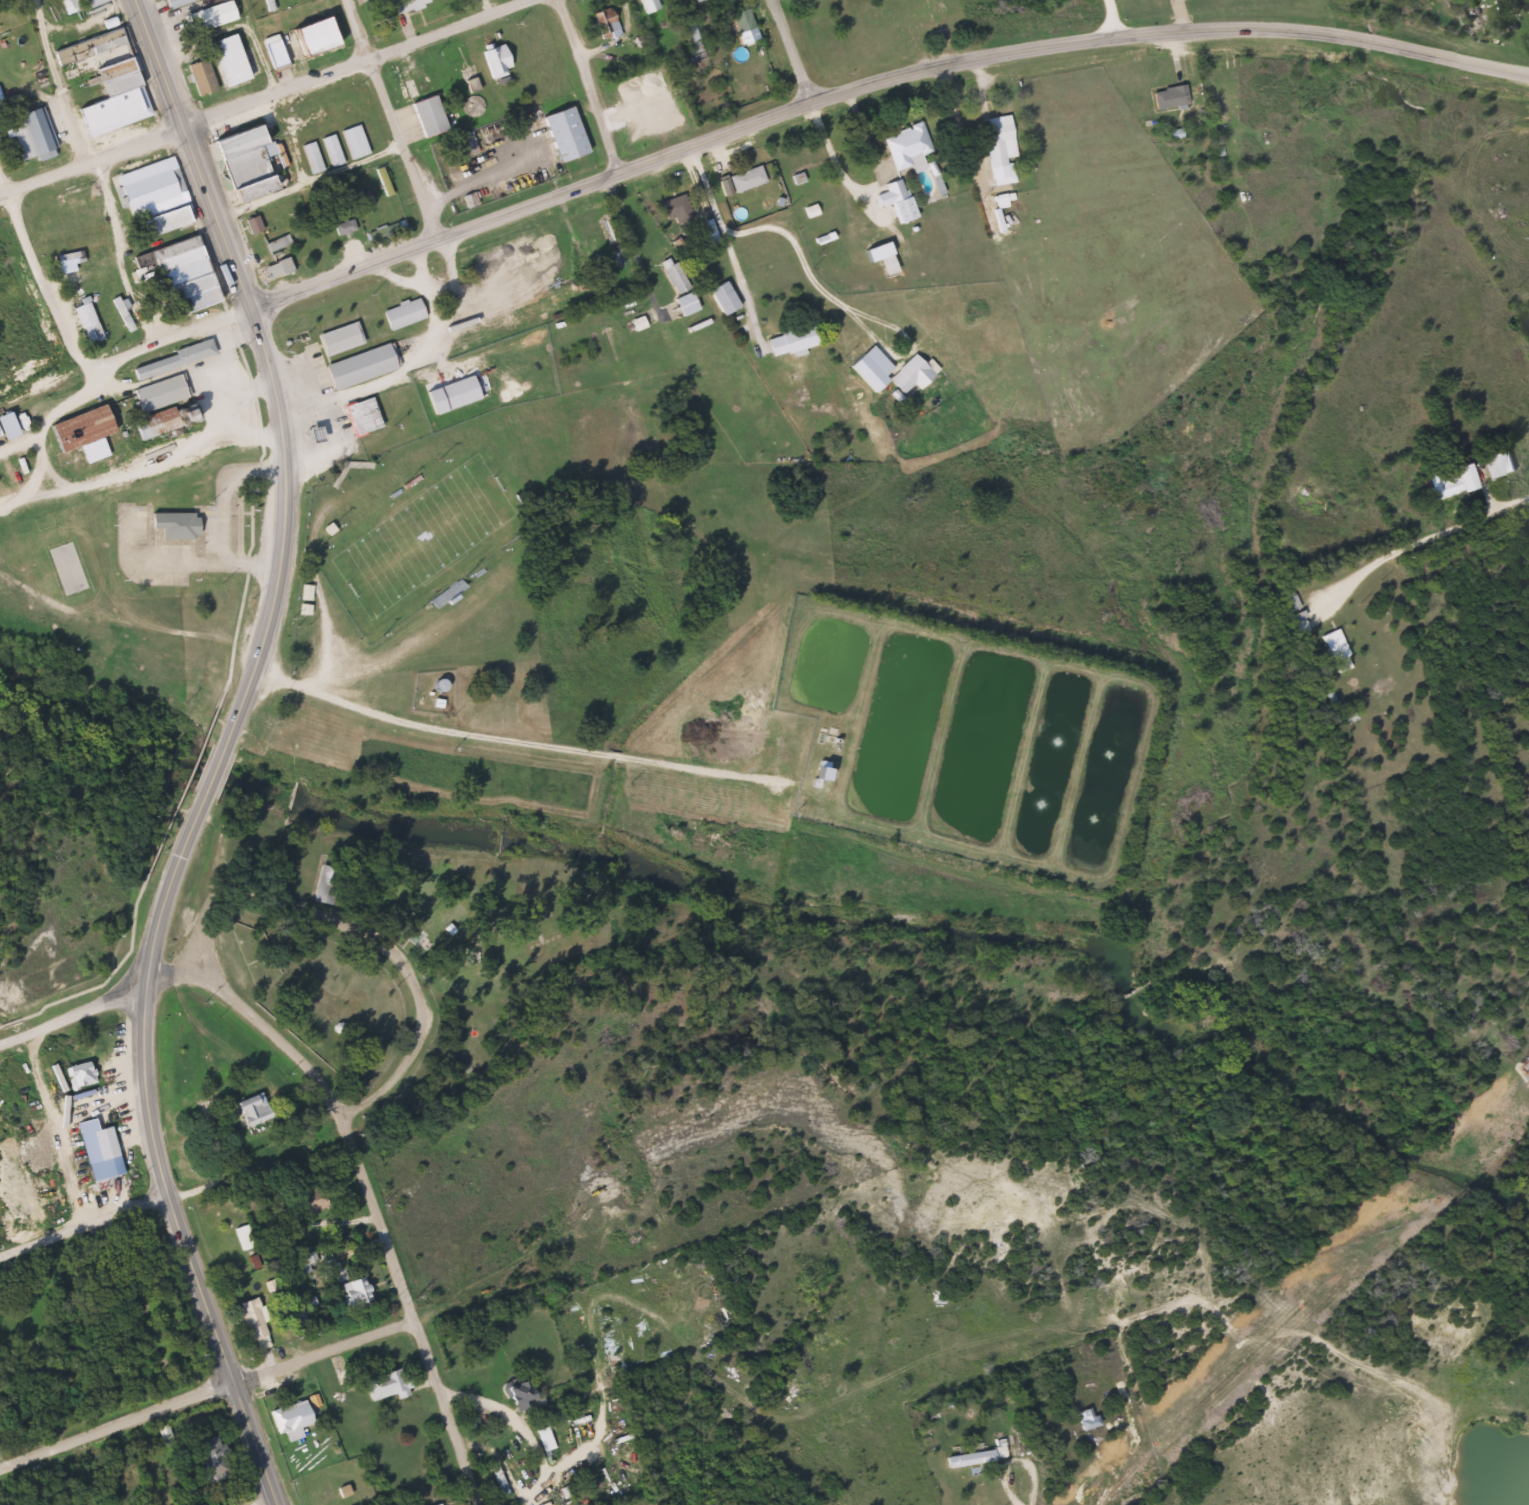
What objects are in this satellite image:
building: (694, 0)
building: (68, 2)
building: (266, 2)
building: (174, 3)
building: (398, 3)
building: (646, 3)
road: (1109, 11)
building: (209, 12)
building: (602, 16)
building: (740, 19)
road: (976, 23)
road: (1164, 27)
building: (313, 32)
building: (688, 35)
building: (86, 43)
building: (270, 45)
road: (787, 46)
building: (491, 52)
building: (227, 56)
building: (198, 73)
building: (113, 74)
road: (585, 81)
building: (1165, 90)
road: (253, 91)
building: (426, 110)
road: (385, 116)
building: (29, 126)
building: (563, 127)
building: (238, 141)
building: (351, 141)
building: (904, 141)
building: (996, 142)
building: (461, 145)
building: (328, 150)
road: (193, 151)
building: (309, 157)
building: (242, 162)
building: (738, 172)
building: (793, 172)
building: (143, 179)
building: (381, 181)
road: (1, 183)
road: (1, 186)
building: (250, 186)
building: (897, 194)
building: (68, 195)
road: (526, 195)
building: (673, 198)
building: (807, 203)
building: (676, 212)
building: (249, 216)
building: (339, 218)
building: (163, 219)
building: (381, 225)
building: (820, 230)
building: (274, 237)
road: (725, 237)
building: (273, 242)
building: (64, 254)
building: (884, 255)
building: (274, 264)
building: (672, 270)
road: (807, 270)
railway: (755, 272)
building: (184, 273)
building: (719, 288)
building: (683, 303)
building: (399, 305)
building: (120, 308)
building: (83, 315)
road: (862, 324)
building: (336, 330)
building: (791, 332)
building: (192, 345)
building: (357, 356)
road: (75, 359)
building: (168, 360)
building: (907, 365)
building: (157, 386)
building: (450, 388)
building: (358, 416)
gas station: (340, 418)
building: (153, 423)
building: (74, 430)
building: (1495, 459)
building: (1442, 479)
road: (247, 496)
road: (237, 504)
building: (172, 519)
road: (278, 522)
park: (418, 532)
road: (1417, 540)
building: (1287, 602)
building: (1333, 649)
wastewater plant: (962, 733)
road: (208, 764)
road: (179, 776)
building: (334, 882)
road: (183, 920)
road: (382, 940)
park: (370, 941)
road: (101, 971)
road: (72, 1016)
building: (76, 1068)
building: (87, 1075)
building: (250, 1105)
building: (97, 1143)
road: (153, 1154)
road: (177, 1182)
road: (373, 1183)
building: (316, 1200)
building: (249, 1237)
building: (361, 1293)
building: (260, 1319)
building: (383, 1382)
road: (209, 1395)
building: (1083, 1417)
building: (301, 1418)
building: (542, 1438)
building: (972, 1456)
building: (218, 1459)
building: (498, 1478)
building: (432, 1503)

